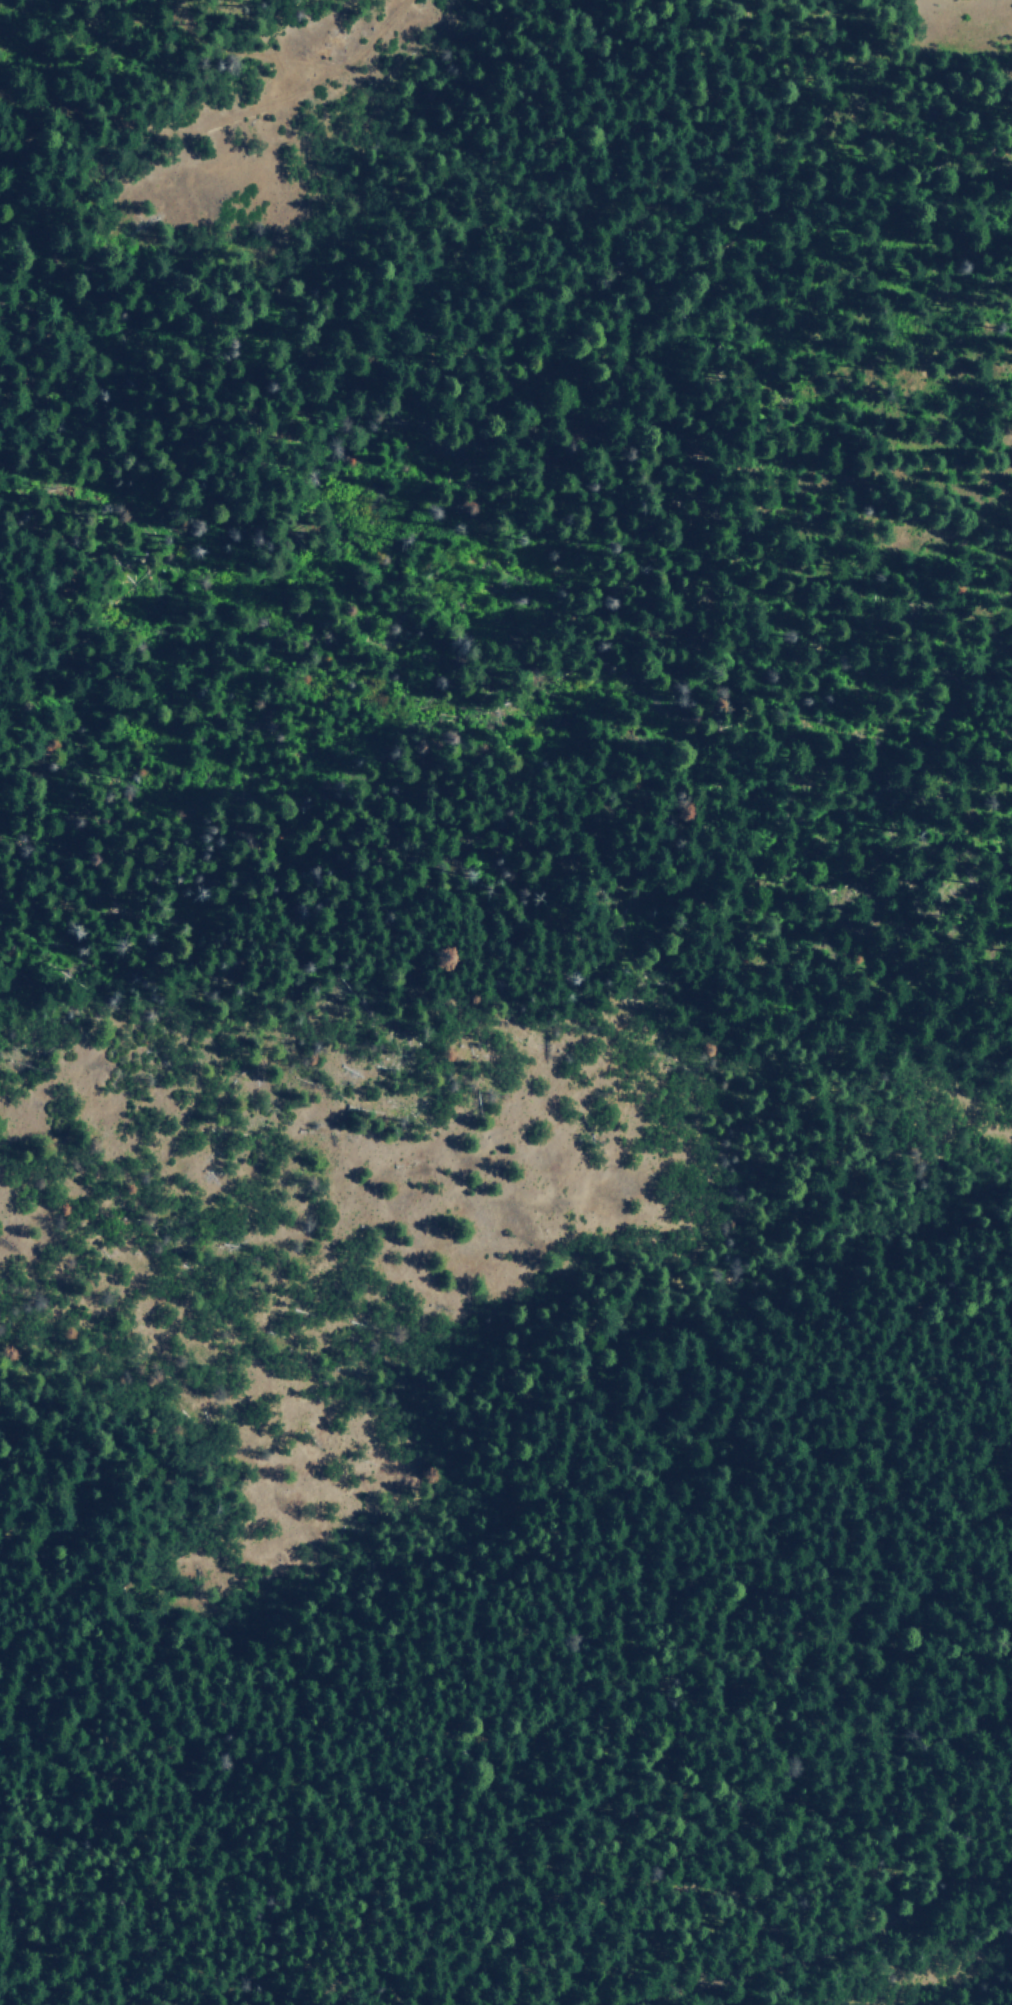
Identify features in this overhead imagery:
road: (895, 1954)

